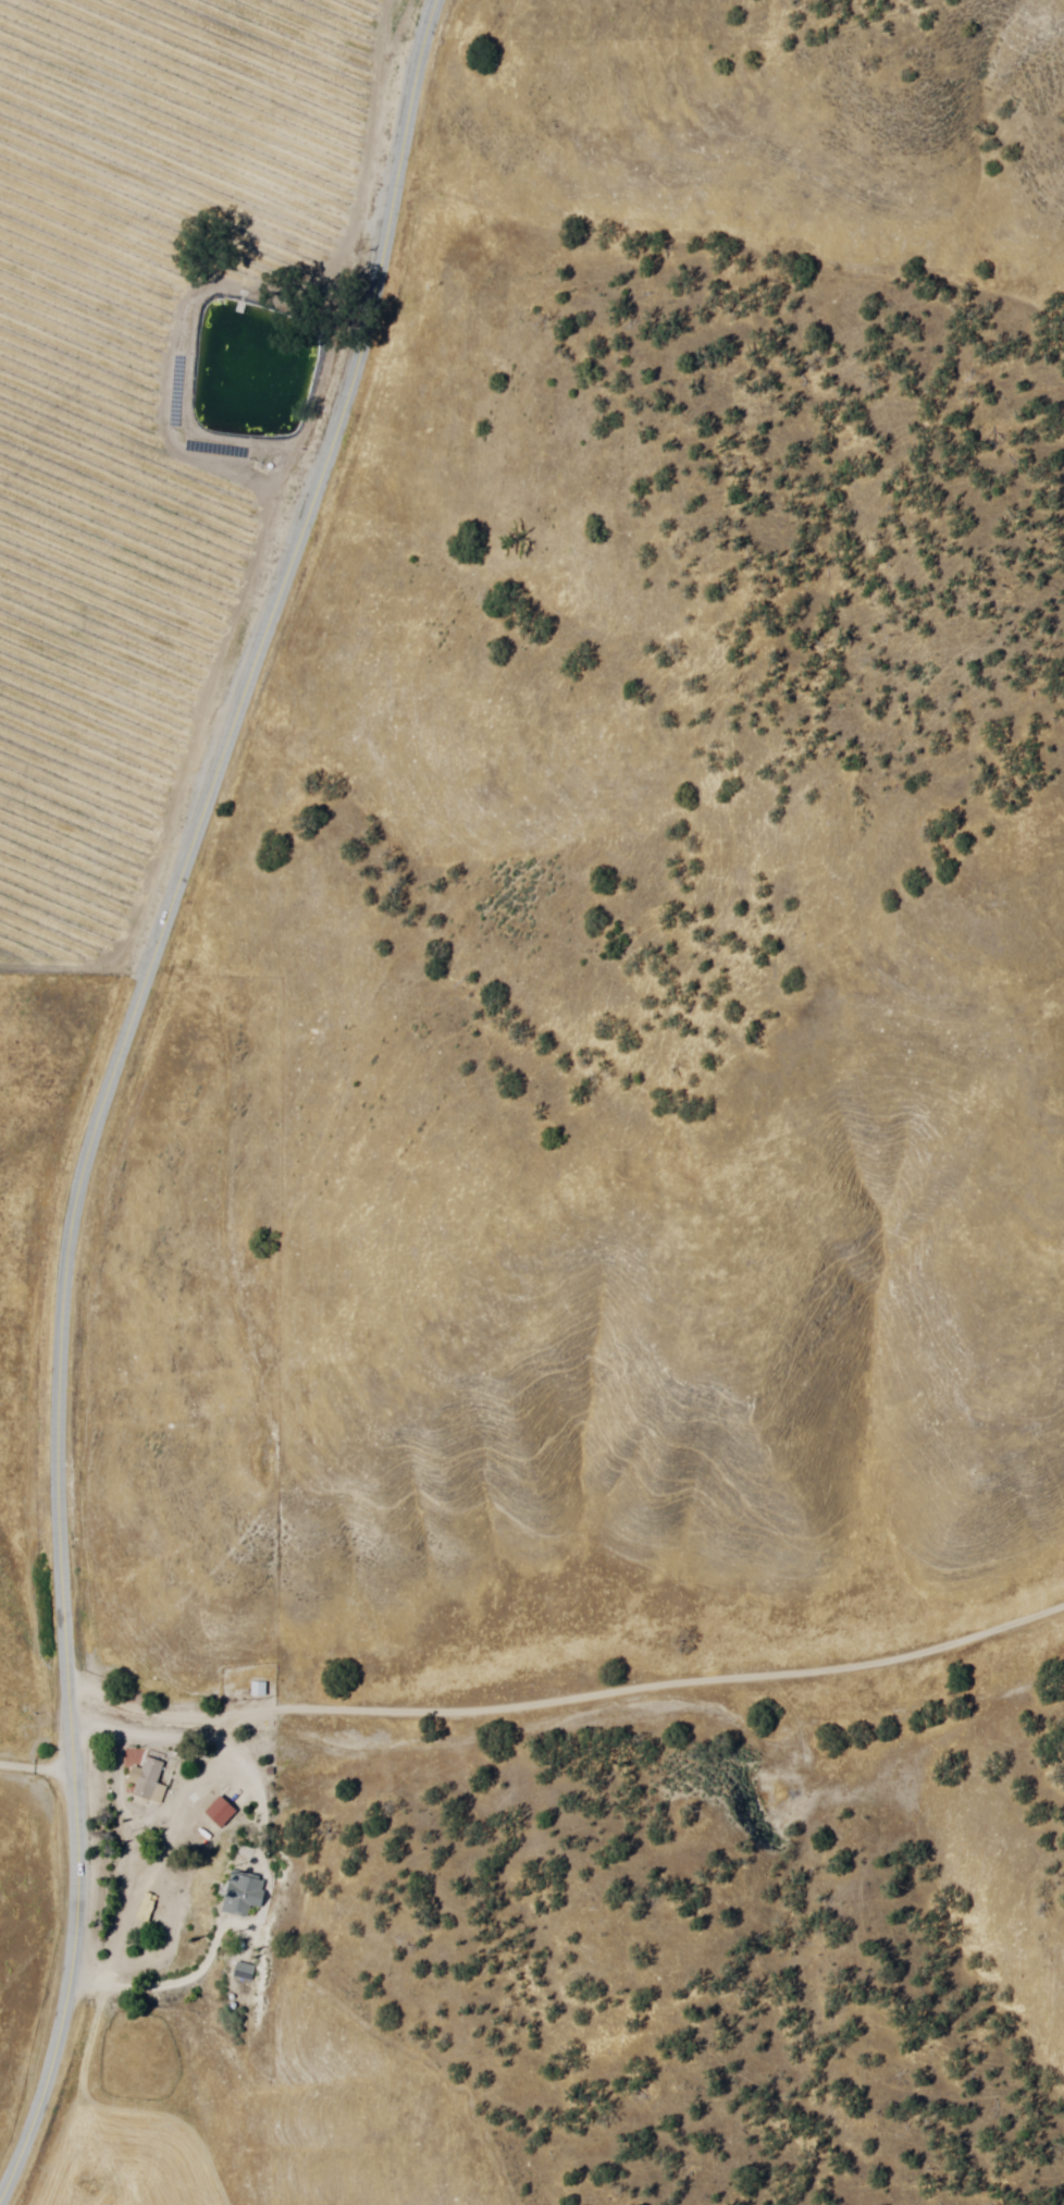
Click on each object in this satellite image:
crop: (139, 379)
road: (114, 1085)
road: (532, 1642)
building: (248, 1688)
road: (35, 1764)
building: (147, 1775)
building: (221, 1809)
building: (245, 1891)
road: (135, 1904)
building: (244, 1971)
road: (166, 1984)
road: (624, 2143)

